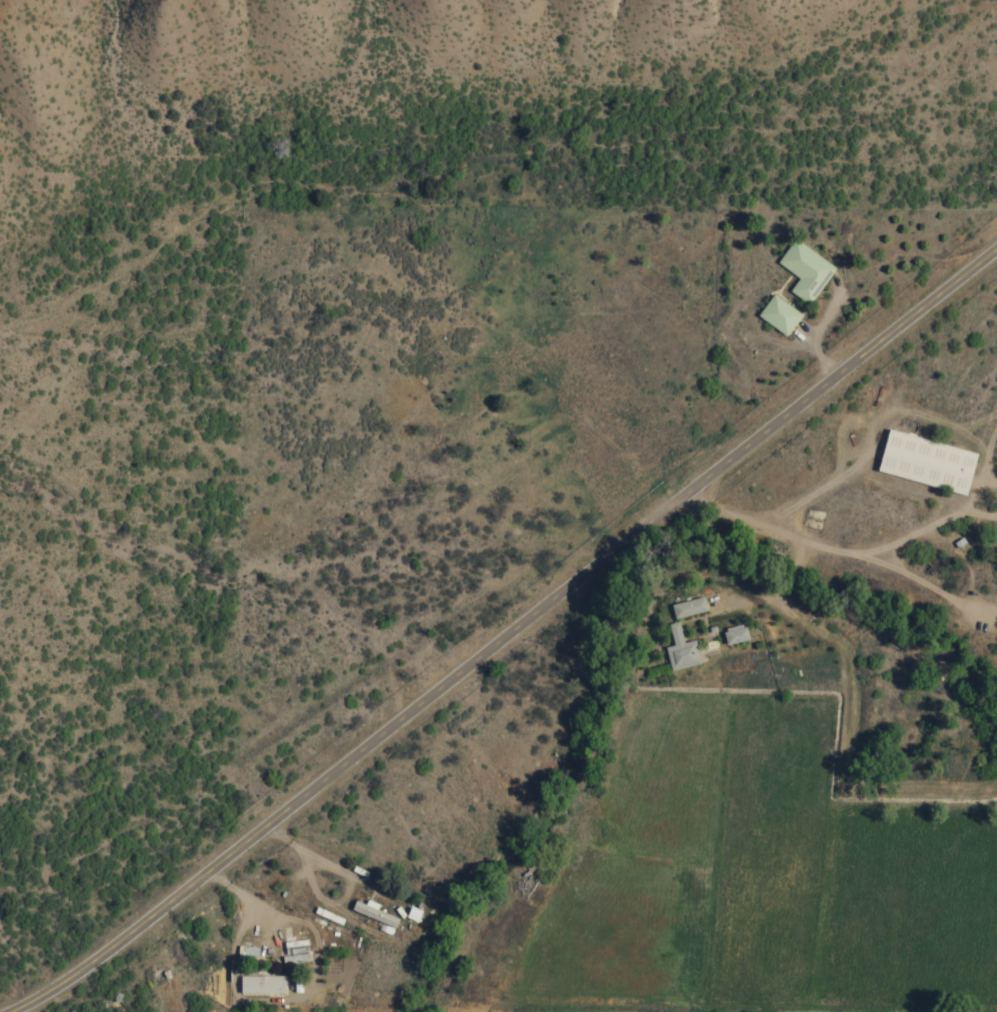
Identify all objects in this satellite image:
building: (802, 273)
building: (776, 317)
building: (924, 464)
building: (688, 609)
road: (507, 637)
building: (734, 637)
building: (681, 657)
building: (372, 917)
building: (411, 917)
building: (261, 988)

